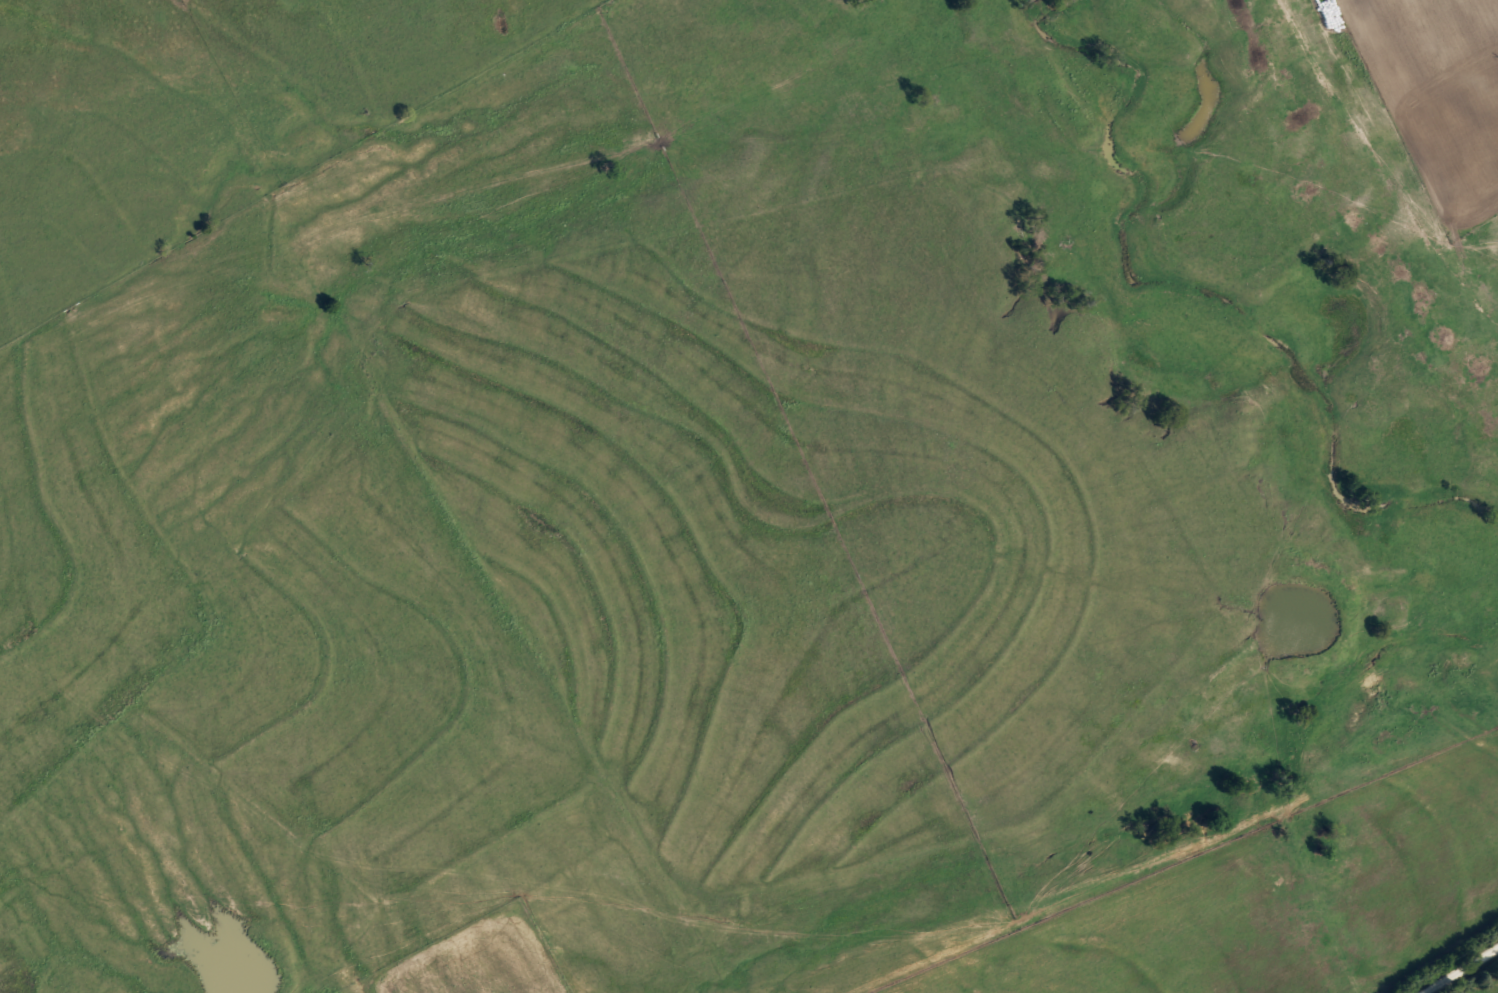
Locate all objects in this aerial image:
road: (1458, 969)

